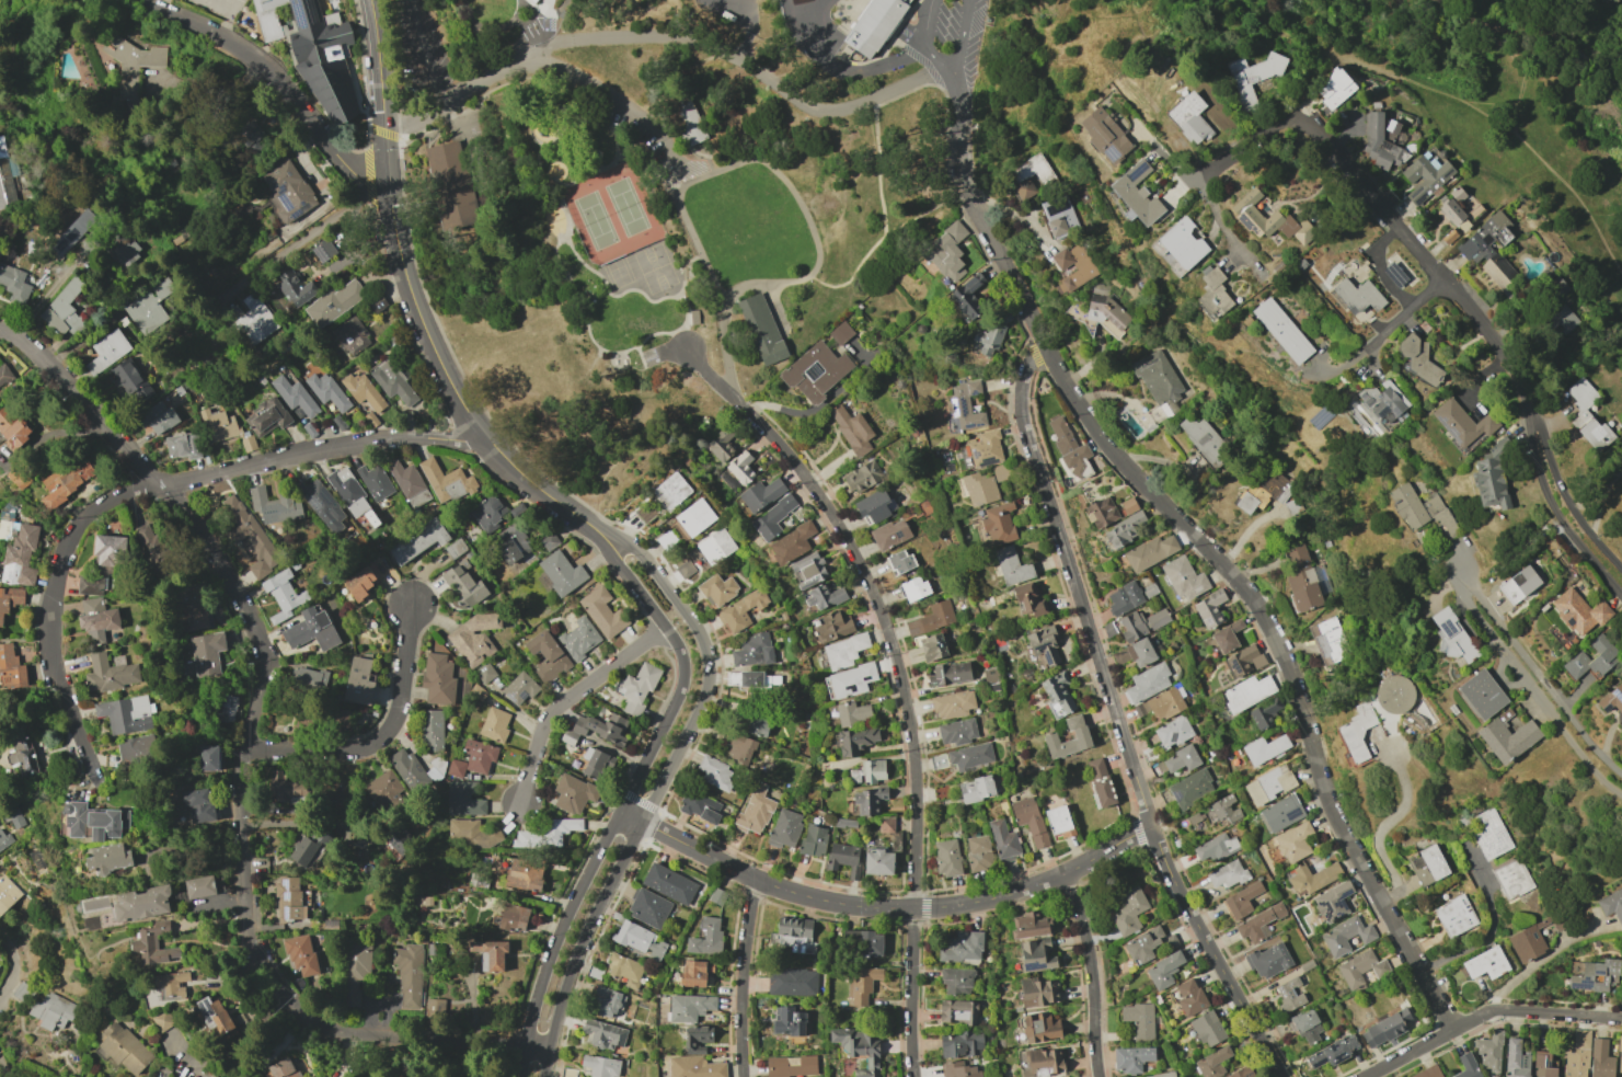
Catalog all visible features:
building: (533, 1)
road: (531, 7)
road: (549, 18)
road: (925, 24)
road: (1544, 25)
road: (490, 26)
road: (537, 26)
parking lot: (538, 27)
building: (872, 27)
road: (960, 33)
parking lot: (419, 47)
building: (313, 51)
road: (423, 53)
road: (934, 56)
road: (875, 65)
building: (129, 68)
building: (1251, 76)
road: (763, 77)
road: (275, 78)
road: (478, 83)
building: (1334, 89)
road: (608, 95)
road: (875, 108)
road: (1123, 111)
road: (1482, 112)
road: (455, 118)
building: (686, 118)
building: (1189, 118)
traffic signals: (383, 123)
road: (611, 123)
road: (564, 127)
parking lot: (464, 129)
building: (1390, 130)
parking lot: (646, 133)
building: (251, 137)
road: (622, 140)
building: (1379, 144)
road: (704, 156)
road: (767, 162)
road: (655, 169)
road: (589, 172)
road: (675, 174)
building: (1425, 176)
building: (4, 180)
traffic signals: (387, 183)
building: (450, 186)
building: (286, 191)
building: (1137, 193)
road: (879, 200)
building: (1057, 200)
road: (1385, 209)
road: (924, 211)
park: (611, 213)
park: (642, 214)
road: (1015, 214)
building: (1453, 216)
building: (1268, 219)
road: (1220, 224)
building: (73, 232)
building: (1485, 238)
road: (292, 247)
building: (1178, 247)
building: (323, 250)
building: (125, 251)
building: (946, 251)
road: (1379, 264)
park: (654, 267)
building: (1071, 270)
building: (1497, 271)
park: (617, 272)
building: (1395, 275)
road: (814, 278)
building: (13, 284)
building: (294, 287)
road: (51, 289)
road: (573, 289)
building: (1212, 294)
road: (610, 295)
road: (679, 295)
building: (1357, 295)
building: (968, 296)
building: (335, 302)
road: (775, 305)
road: (1410, 305)
road: (414, 306)
building: (148, 307)
building: (64, 309)
building: (1096, 313)
building: (693, 317)
building: (252, 320)
building: (1562, 320)
building: (762, 329)
building: (1281, 330)
building: (840, 333)
road: (723, 334)
building: (350, 337)
building: (988, 337)
building: (106, 351)
road: (640, 357)
building: (1418, 359)
building: (815, 371)
building: (4, 376)
building: (130, 381)
building: (392, 381)
road: (728, 381)
building: (1157, 381)
building: (363, 390)
building: (326, 391)
building: (294, 396)
building: (1383, 401)
building: (965, 404)
building: (1587, 415)
building: (160, 416)
building: (266, 416)
building: (1462, 424)
building: (218, 425)
building: (12, 427)
building: (851, 429)
building: (1062, 436)
building: (1204, 443)
building: (721, 445)
building: (182, 446)
building: (985, 449)
building: (1079, 462)
building: (740, 467)
building: (1492, 476)
building: (862, 477)
building: (67, 480)
building: (446, 481)
building: (375, 482)
building: (409, 483)
building: (985, 485)
building: (1621, 485)
road: (148, 488)
building: (670, 491)
building: (1265, 491)
building: (348, 492)
building: (760, 494)
road: (1564, 496)
road: (1601, 499)
building: (275, 505)
building: (323, 505)
building: (875, 505)
building: (1130, 506)
building: (1415, 506)
building: (644, 512)
building: (487, 513)
building: (1103, 513)
road: (1554, 513)
building: (772, 517)
building: (692, 518)
building: (998, 523)
building: (1126, 530)
building: (890, 534)
building: (248, 535)
road: (1201, 540)
building: (418, 541)
building: (549, 541)
building: (511, 543)
building: (791, 543)
building: (152, 547)
building: (715, 547)
building: (110, 553)
building: (1151, 553)
building: (20, 557)
building: (899, 561)
building: (1011, 566)
building: (685, 569)
building: (808, 570)
building: (561, 573)
building: (1185, 578)
building: (361, 582)
building: (1304, 582)
road: (1075, 584)
building: (1518, 584)
building: (92, 585)
building: (463, 585)
building: (913, 588)
building: (717, 589)
building: (283, 595)
building: (825, 597)
building: (1126, 599)
building: (10, 600)
building: (1031, 600)
building: (1211, 609)
building: (740, 610)
building: (193, 611)
building: (602, 611)
building: (1578, 611)
building: (931, 618)
building: (99, 620)
building: (1143, 623)
building: (832, 627)
building: (1109, 629)
building: (311, 630)
building: (1451, 634)
building: (474, 638)
building: (579, 638)
building: (1228, 638)
building: (1327, 644)
building: (932, 648)
building: (1044, 648)
building: (752, 651)
building: (844, 651)
building: (1141, 653)
building: (207, 654)
building: (547, 656)
building: (1120, 656)
building: (1591, 658)
building: (1245, 661)
building: (11, 667)
building: (484, 673)
building: (112, 674)
building: (950, 674)
road: (901, 676)
road: (1537, 676)
building: (308, 679)
building: (437, 679)
building: (752, 680)
building: (851, 680)
building: (358, 681)
building: (1148, 683)
building: (637, 687)
building: (519, 688)
road: (1532, 690)
building: (1250, 692)
building: (1059, 695)
building: (1395, 695)
building: (1481, 695)
road: (565, 699)
building: (1612, 699)
building: (952, 704)
building: (1161, 704)
building: (227, 708)
building: (852, 713)
building: (1267, 713)
building: (127, 714)
building: (494, 724)
building: (751, 724)
building: (596, 729)
building: (432, 730)
building: (956, 732)
building: (1174, 732)
road: (381, 735)
building: (1357, 736)
building: (1083, 737)
building: (1150, 738)
building: (1507, 738)
building: (855, 741)
road: (248, 744)
building: (738, 747)
building: (138, 749)
building: (1266, 749)
building: (23, 756)
building: (970, 756)
building: (209, 758)
building: (473, 758)
building: (1182, 759)
building: (596, 764)
building: (1157, 768)
building: (407, 770)
building: (867, 771)
building: (713, 772)
building: (1102, 782)
road: (1229, 786)
building: (1273, 786)
building: (1192, 788)
building: (286, 789)
building: (976, 789)
building: (383, 790)
building: (573, 793)
road: (654, 793)
building: (463, 799)
building: (868, 800)
road: (623, 801)
building: (700, 806)
building: (755, 810)
building: (1215, 813)
building: (1282, 815)
road: (629, 816)
building: (1029, 820)
building: (95, 822)
building: (1059, 823)
building: (886, 825)
building: (785, 828)
road: (1377, 833)
building: (471, 834)
building: (547, 834)
building: (1489, 834)
building: (3, 838)
building: (399, 839)
building: (1003, 839)
building: (813, 840)
building: (1296, 843)
building: (1213, 847)
building: (308, 849)
building: (978, 852)
building: (946, 857)
building: (110, 858)
building: (843, 858)
building: (878, 861)
building: (1428, 866)
building: (522, 873)
building: (1227, 874)
building: (1313, 879)
building: (1512, 880)
building: (668, 883)
building: (199, 886)
building: (7, 893)
building: (290, 901)
building: (1241, 901)
road: (225, 903)
building: (1334, 903)
building: (125, 905)
building: (1611, 905)
building: (648, 908)
road: (896, 908)
building: (1128, 910)
building: (1454, 916)
building: (513, 917)
building: (1258, 924)
building: (1031, 925)
road: (1489, 926)
building: (793, 935)
building: (1347, 936)
building: (706, 938)
building: (639, 940)
building: (153, 943)
building: (862, 943)
building: (1147, 943)
building: (1527, 944)
building: (962, 946)
building: (300, 954)
building: (490, 954)
building: (1036, 954)
road: (1215, 954)
road: (1542, 959)
building: (1268, 960)
building: (1485, 963)
road: (11, 967)
building: (624, 970)
building: (1164, 970)
building: (1362, 970)
building: (355, 972)
building: (692, 973)
road: (1094, 973)
building: (409, 974)
building: (1594, 975)
road: (745, 976)
building: (792, 982)
building: (956, 982)
building: (861, 984)
building: (165, 987)
building: (1038, 992)
building: (1289, 994)
building: (1189, 997)
building: (605, 1001)
building: (434, 1007)
building: (689, 1007)
building: (51, 1010)
building: (958, 1012)
road: (1486, 1015)
building: (214, 1016)
building: (1138, 1019)
building: (162, 1020)
building: (787, 1021)
building: (1307, 1026)
building: (1040, 1027)
building: (1207, 1029)
building: (1384, 1029)
building: (603, 1034)
building: (697, 1039)
building: (960, 1044)
building: (124, 1049)
road: (536, 1049)
building: (859, 1049)
road: (232, 1052)
building: (1332, 1052)
building: (1488, 1053)
building: (1620, 1057)
building: (1131, 1058)
building: (1515, 1059)
building: (1600, 1059)
building: (1040, 1062)
building: (1212, 1063)
building: (1542, 1065)
building: (600, 1066)
building: (791, 1066)
building: (1466, 1066)
building: (694, 1067)
building: (283, 1069)
building: (959, 1069)
building: (1427, 1073)
building: (1162, 1075)
building: (209, 1076)
building: (1062, 1076)

